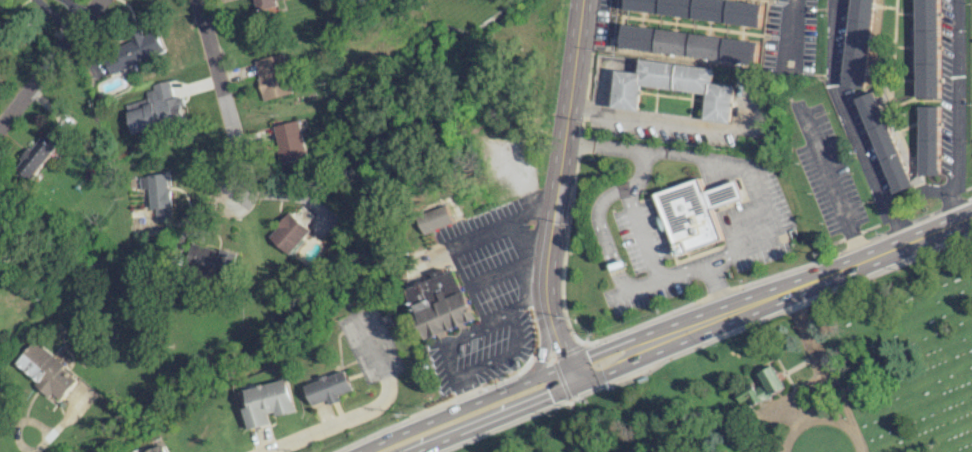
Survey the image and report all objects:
building: (264, 2)
building: (702, 10)
road: (794, 33)
building: (858, 43)
building: (688, 44)
building: (926, 48)
building: (131, 52)
road: (48, 61)
building: (272, 77)
building: (673, 86)
road: (219, 93)
building: (155, 110)
road: (955, 111)
road: (645, 121)
road: (849, 125)
building: (927, 140)
building: (289, 141)
building: (883, 142)
building: (38, 153)
road: (720, 160)
road: (559, 162)
road: (832, 187)
building: (156, 189)
building: (694, 213)
building: (161, 214)
building: (438, 219)
road: (199, 221)
road: (504, 224)
building: (2, 226)
building: (289, 233)
road: (642, 236)
building: (211, 259)
road: (811, 280)
road: (714, 291)
building: (441, 304)
traffic signals: (558, 348)
road: (541, 352)
road: (560, 355)
traffic signals: (586, 356)
road: (822, 361)
building: (44, 370)
park: (795, 381)
building: (762, 386)
building: (328, 388)
road: (501, 391)
traffic signals: (548, 397)
road: (534, 402)
building: (268, 403)
road: (366, 413)
road: (821, 416)
road: (49, 434)
building: (161, 449)

